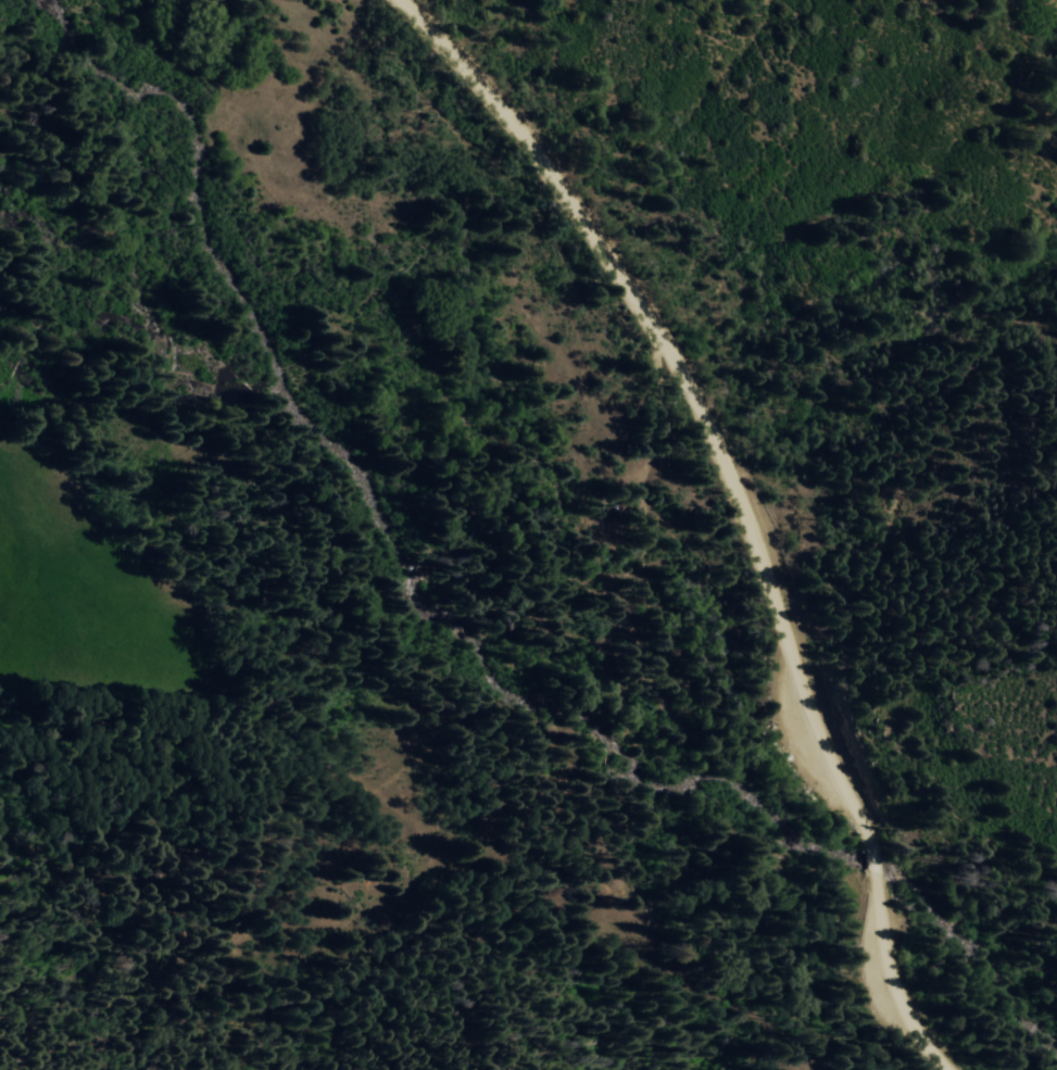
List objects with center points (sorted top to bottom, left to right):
road: (690, 392)
river: (617, 507)
road: (901, 528)
road: (806, 601)
parking lot: (814, 747)
road: (873, 861)
road: (891, 980)

